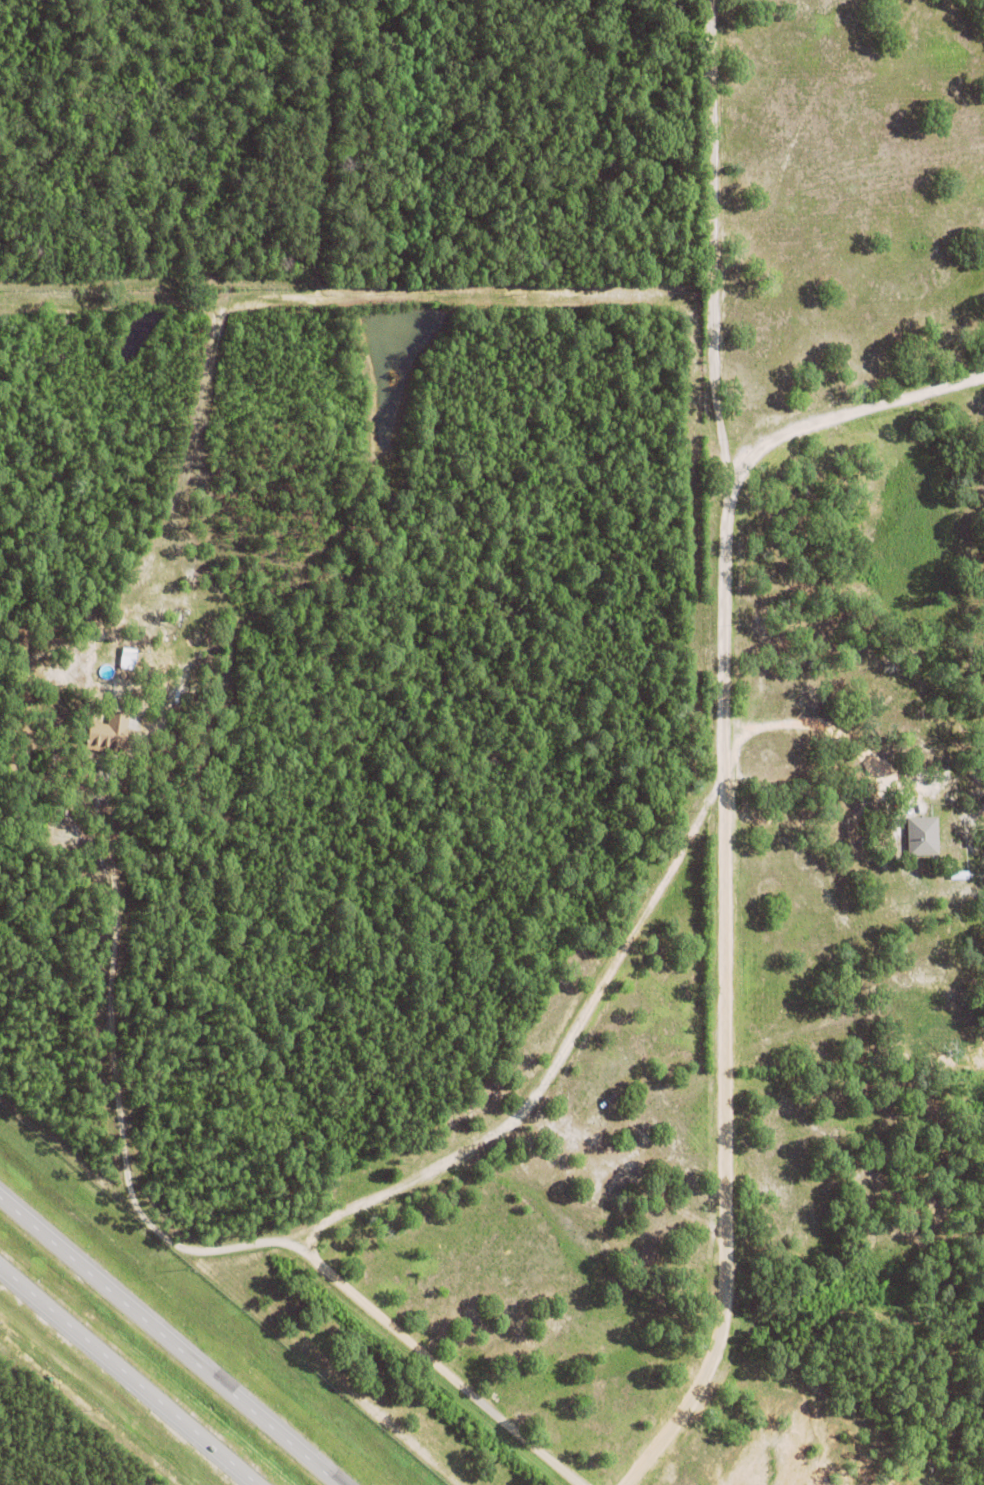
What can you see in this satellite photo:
road: (712, 241)
road: (844, 409)
building: (129, 652)
road: (804, 723)
building: (112, 732)
road: (828, 819)
building: (923, 836)
road: (722, 999)
road: (551, 1056)
road: (193, 1245)
road: (168, 1341)
road: (127, 1376)

